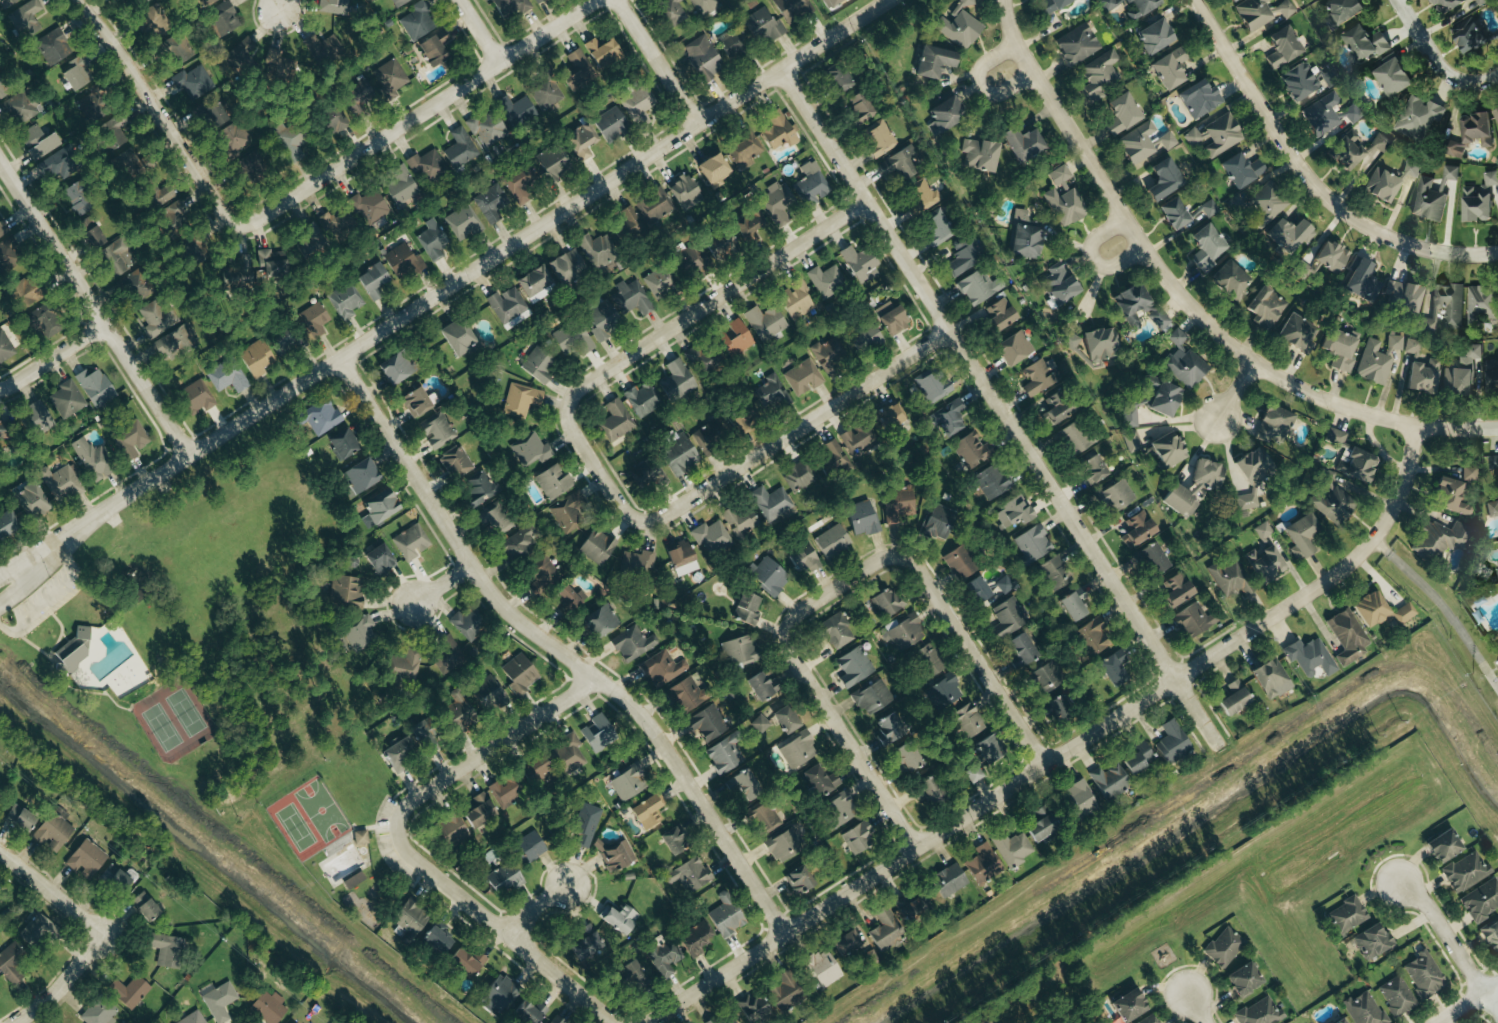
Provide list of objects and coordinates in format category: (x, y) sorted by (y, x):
building: (536, 0)
building: (205, 1)
building: (1232, 1)
building: (399, 2)
building: (7, 3)
road: (275, 3)
building: (832, 3)
building: (964, 4)
building: (1052, 5)
building: (705, 6)
building: (1447, 6)
building: (509, 7)
building: (1135, 7)
building: (794, 8)
building: (1282, 12)
building: (1343, 12)
building: (672, 13)
building: (1254, 14)
building: (150, 18)
building: (223, 18)
building: (26, 21)
building: (418, 21)
building: (763, 27)
building: (959, 29)
road: (479, 31)
road: (835, 34)
building: (1154, 37)
building: (1365, 43)
road: (1422, 44)
building: (733, 45)
building: (1078, 45)
building: (52, 47)
building: (433, 48)
building: (1283, 48)
building: (324, 49)
building: (176, 51)
building: (603, 54)
building: (703, 57)
building: (239, 58)
road: (657, 61)
building: (934, 62)
building: (278, 67)
building: (1170, 70)
building: (577, 71)
building: (1100, 75)
building: (391, 77)
building: (72, 78)
building: (1393, 78)
road: (1478, 80)
building: (193, 82)
building: (842, 82)
building: (1300, 82)
building: (0, 83)
road: (978, 84)
building: (545, 94)
building: (357, 95)
building: (1201, 99)
building: (638, 105)
building: (21, 107)
building: (861, 107)
building: (90, 109)
road: (155, 109)
building: (518, 111)
building: (210, 113)
building: (1122, 114)
building: (1496, 114)
building: (944, 116)
building: (1328, 116)
road: (413, 117)
building: (1419, 117)
building: (332, 119)
building: (611, 125)
building: (487, 129)
building: (1477, 129)
building: (116, 131)
building: (777, 132)
building: (1223, 135)
building: (1193, 137)
building: (879, 138)
building: (1166, 141)
building: (234, 142)
building: (581, 142)
building: (1380, 142)
building: (37, 143)
building: (1023, 144)
building: (1138, 144)
building: (293, 145)
building: (460, 149)
building: (1455, 149)
building: (745, 150)
building: (1345, 154)
building: (980, 155)
building: (901, 163)
building: (552, 164)
building: (249, 165)
building: (60, 166)
building: (427, 166)
building: (1412, 168)
building: (713, 170)
building: (1241, 170)
road: (1309, 176)
building: (1060, 178)
building: (520, 179)
building: (1164, 180)
building: (811, 184)
building: (401, 186)
building: (1382, 186)
building: (685, 193)
building: (923, 196)
building: (1433, 196)
building: (777, 199)
building: (1479, 200)
building: (492, 203)
building: (1261, 204)
building: (654, 206)
building: (1066, 206)
building: (369, 207)
building: (1210, 208)
building: (76, 209)
building: (173, 211)
building: (1174, 214)
building: (335, 220)
building: (463, 222)
building: (629, 225)
building: (749, 225)
building: (3, 228)
building: (937, 230)
building: (1287, 235)
building: (92, 237)
building: (312, 237)
building: (1025, 237)
building: (432, 240)
building: (194, 244)
building: (721, 244)
building: (1207, 246)
building: (597, 250)
building: (8, 254)
building: (965, 256)
building: (118, 257)
building: (1331, 257)
road: (1092, 259)
building: (402, 260)
building: (274, 261)
building: (694, 262)
building: (859, 264)
building: (567, 267)
building: (240, 269)
building: (371, 280)
building: (660, 281)
building: (826, 281)
building: (1230, 281)
building: (1362, 282)
building: (534, 283)
building: (1058, 286)
building: (979, 287)
building: (27, 290)
building: (141, 290)
building: (1402, 296)
building: (632, 299)
building: (795, 299)
road: (1183, 299)
building: (345, 300)
building: (1450, 304)
building: (1132, 305)
building: (508, 307)
building: (1265, 307)
building: (1483, 307)
road: (93, 309)
building: (999, 316)
building: (313, 318)
road: (398, 318)
building: (601, 318)
building: (157, 319)
building: (890, 319)
building: (1159, 319)
building: (34, 322)
building: (765, 322)
building: (1296, 331)
building: (456, 335)
building: (734, 338)
building: (283, 340)
road: (653, 340)
building: (863, 340)
building: (175, 341)
building: (1073, 341)
building: (1101, 344)
building: (1395, 344)
building: (5, 347)
building: (1413, 347)
building: (1339, 348)
building: (1014, 349)
building: (828, 354)
road: (51, 356)
building: (251, 356)
building: (703, 359)
building: (1184, 361)
building: (538, 363)
building: (1374, 363)
building: (393, 368)
building: (1463, 372)
building: (227, 376)
building: (1423, 376)
building: (803, 377)
building: (1040, 377)
building: (676, 379)
building: (1491, 380)
building: (95, 387)
building: (929, 387)
road: (1235, 390)
building: (773, 391)
building: (1163, 396)
building: (195, 397)
building: (68, 399)
building: (642, 399)
building: (521, 400)
building: (415, 401)
road: (999, 408)
building: (1055, 409)
building: (741, 414)
building: (37, 416)
building: (320, 416)
building: (892, 416)
building: (1131, 416)
building: (616, 420)
building: (949, 421)
building: (1273, 424)
road: (793, 430)
building: (438, 431)
building: (709, 433)
building: (1077, 437)
building: (132, 438)
building: (1132, 440)
building: (857, 442)
building: (342, 443)
building: (969, 448)
building: (1168, 449)
building: (531, 451)
building: (680, 456)
building: (835, 456)
building: (1352, 457)
building: (92, 459)
building: (456, 462)
building: (1493, 463)
building: (1093, 468)
building: (1470, 472)
building: (648, 473)
building: (360, 475)
building: (799, 475)
building: (1252, 477)
building: (553, 481)
building: (992, 481)
building: (62, 482)
building: (1194, 486)
building: (482, 489)
building: (1118, 494)
building: (1451, 497)
building: (29, 498)
building: (773, 503)
building: (1331, 503)
building: (897, 504)
building: (378, 507)
building: (1493, 508)
building: (1014, 510)
building: (571, 512)
building: (862, 518)
building: (495, 519)
building: (740, 520)
building: (940, 520)
building: (7, 523)
building: (1138, 529)
building: (1263, 530)
building: (1302, 534)
building: (712, 535)
building: (833, 541)
building: (410, 542)
building: (519, 542)
building: (597, 545)
building: (1033, 545)
building: (803, 558)
building: (379, 559)
building: (682, 559)
building: (1152, 559)
building: (638, 562)
building: (960, 562)
building: (1265, 563)
building: (1497, 568)
building: (542, 572)
building: (1055, 572)
road: (10, 576)
building: (769, 576)
building: (1230, 577)
road: (442, 583)
building: (1006, 585)
building: (978, 588)
building: (1177, 589)
road: (12, 590)
building: (346, 591)
building: (568, 599)
road: (52, 601)
building: (886, 602)
building: (1073, 604)
road: (1443, 607)
building: (747, 608)
building: (1371, 609)
park: (1482, 610)
building: (1405, 612)
building: (1008, 617)
building: (600, 620)
building: (1194, 620)
park: (209, 622)
building: (466, 624)
building: (837, 631)
building: (359, 634)
building: (906, 634)
building: (1093, 635)
building: (1348, 636)
building: (632, 643)
building: (1022, 647)
building: (74, 648)
road: (557, 649)
building: (741, 650)
building: (446, 654)
road: (971, 654)
building: (1310, 656)
building: (930, 663)
building: (404, 665)
building: (854, 666)
building: (662, 668)
building: (1111, 670)
building: (519, 673)
building: (1272, 678)
road: (808, 685)
building: (762, 686)
road: (89, 689)
building: (943, 692)
building: (488, 693)
building: (686, 693)
building: (873, 697)
building: (1234, 697)
building: (1057, 710)
building: (458, 712)
building: (786, 719)
building: (967, 721)
building: (708, 723)
building: (761, 724)
building: (889, 728)
building: (422, 733)
road: (150, 734)
building: (598, 734)
building: (1172, 742)
road: (489, 748)
building: (798, 749)
building: (988, 749)
road: (1065, 751)
building: (570, 752)
building: (397, 755)
building: (724, 755)
building: (1138, 757)
building: (908, 758)
building: (536, 769)
building: (974, 774)
building: (820, 780)
building: (1109, 780)
building: (627, 782)
building: (741, 784)
building: (927, 789)
building: (506, 792)
building: (1079, 799)
building: (840, 808)
building: (646, 811)
building: (479, 812)
building: (19, 817)
building: (765, 819)
building: (586, 823)
building: (1041, 827)
building: (451, 829)
building: (53, 830)
park: (333, 830)
building: (857, 836)
building: (360, 837)
building: (673, 841)
building: (785, 844)
building: (529, 846)
building: (1444, 846)
building: (1012, 848)
building: (615, 854)
building: (86, 857)
building: (983, 863)
building: (1466, 872)
building: (690, 874)
building: (116, 876)
building: (501, 877)
building: (354, 880)
building: (799, 880)
building: (949, 880)
road: (50, 893)
building: (1482, 900)
building: (910, 905)
building: (144, 906)
road: (533, 907)
building: (1348, 914)
building: (409, 918)
building: (618, 918)
building: (723, 919)
road: (498, 929)
building: (886, 930)
building: (36, 931)
building: (1491, 934)
building: (437, 938)
building: (695, 938)
building: (1373, 941)
road: (1452, 944)
building: (854, 945)
building: (1224, 947)
building: (165, 949)
building: (664, 953)
building: (12, 962)
building: (466, 963)
building: (823, 968)
building: (632, 971)
building: (1425, 975)
building: (1243, 979)
road: (63, 982)
building: (784, 989)
building: (130, 992)
building: (499, 993)
building: (1398, 996)
building: (219, 1001)
road: (1466, 1002)
building: (1129, 1005)
building: (268, 1007)
building: (751, 1007)
road: (1196, 1008)
building: (1365, 1009)
building: (530, 1011)
building: (99, 1012)
building: (1260, 1012)
building: (193, 1018)
building: (726, 1019)
building: (556, 1020)
building: (1150, 1020)
road: (973, 1021)
building: (1341, 1021)

